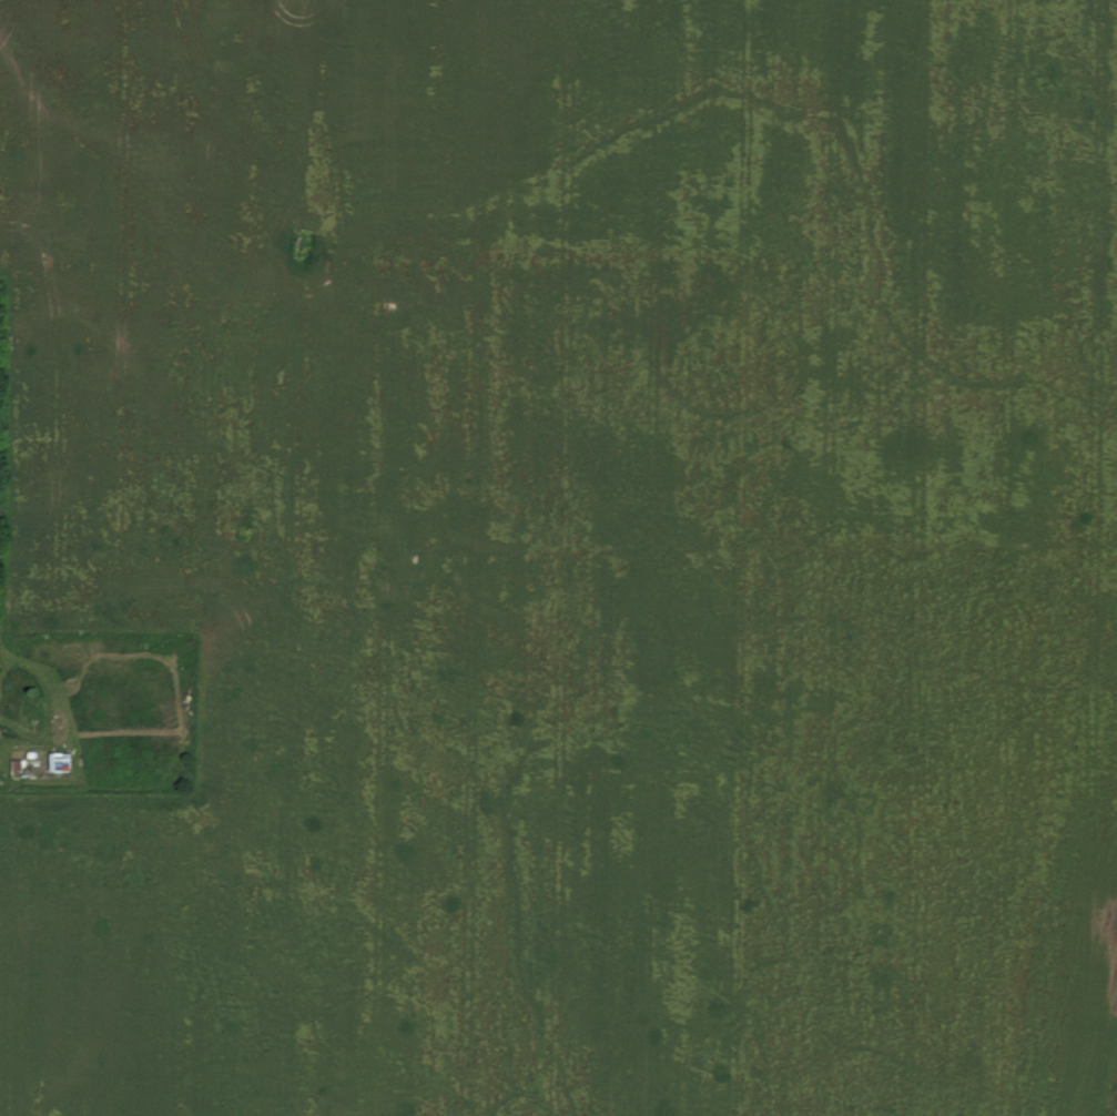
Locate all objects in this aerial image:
building: (67, 762)

